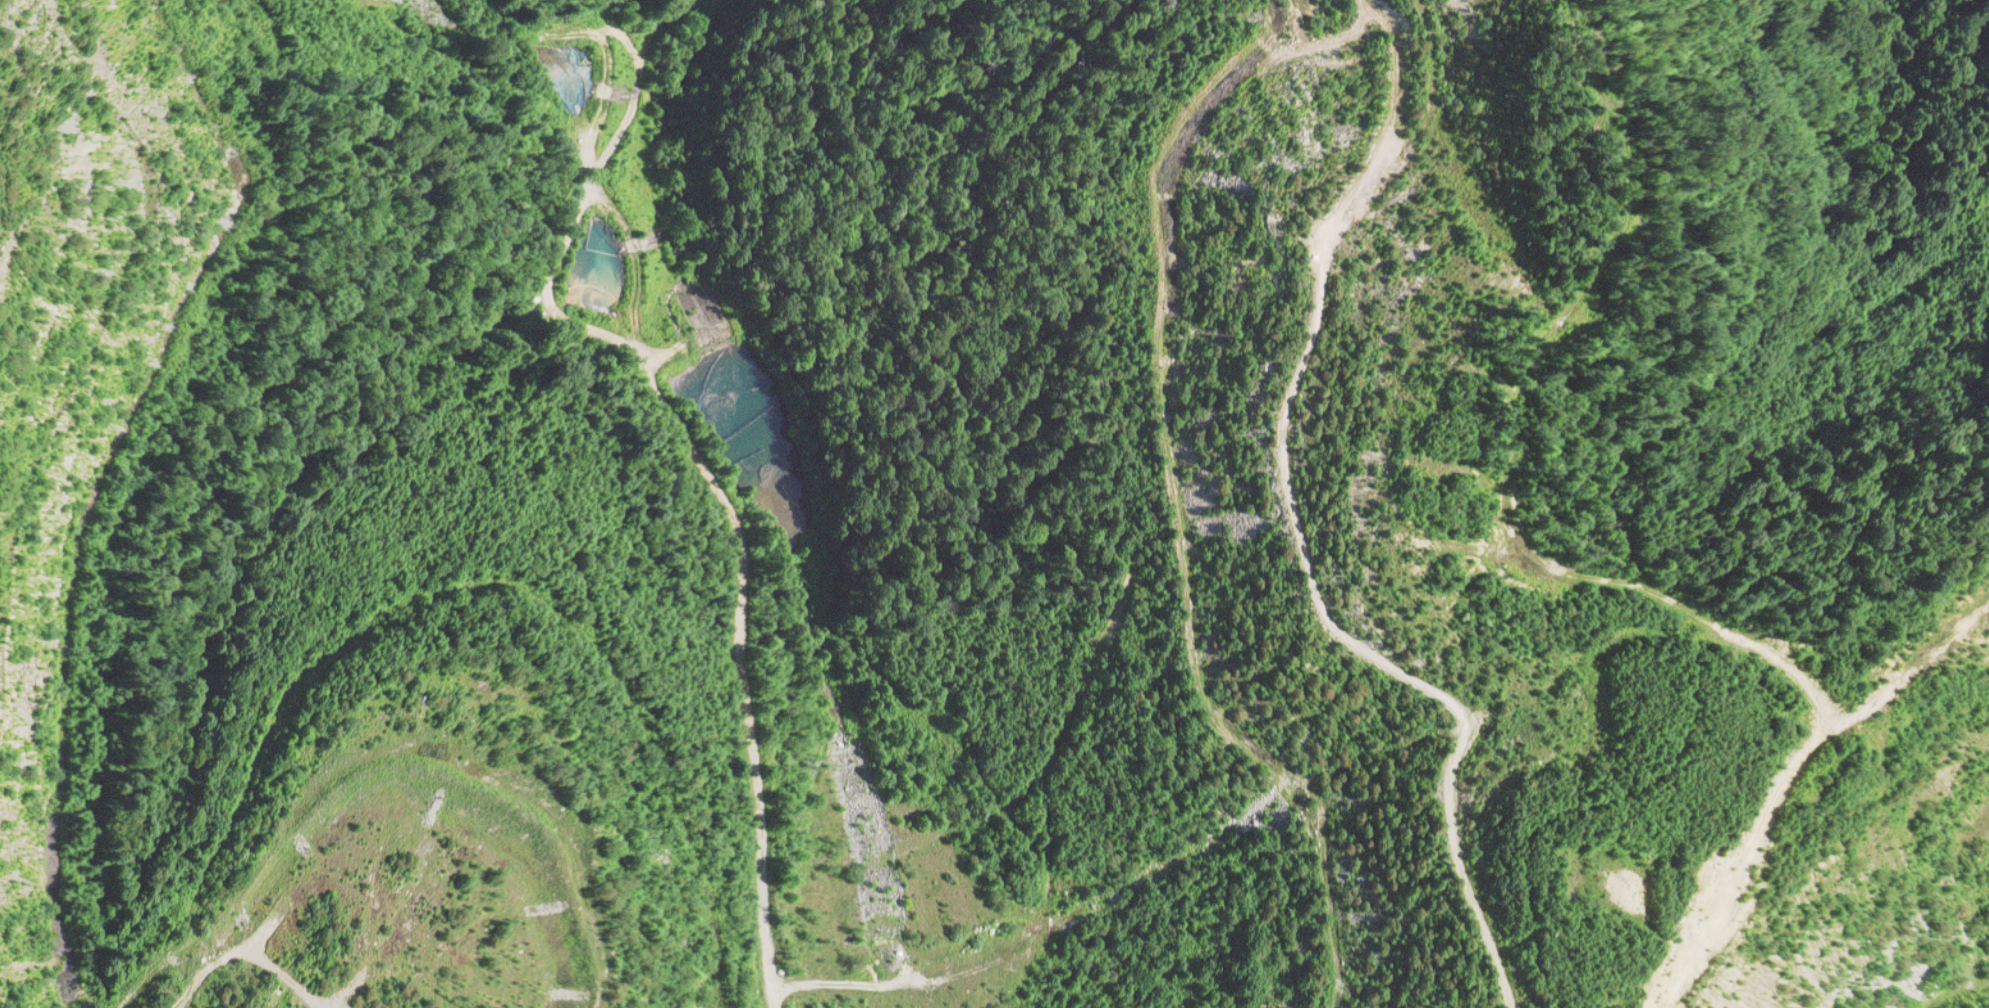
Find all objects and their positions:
quarry: (994, 504)

